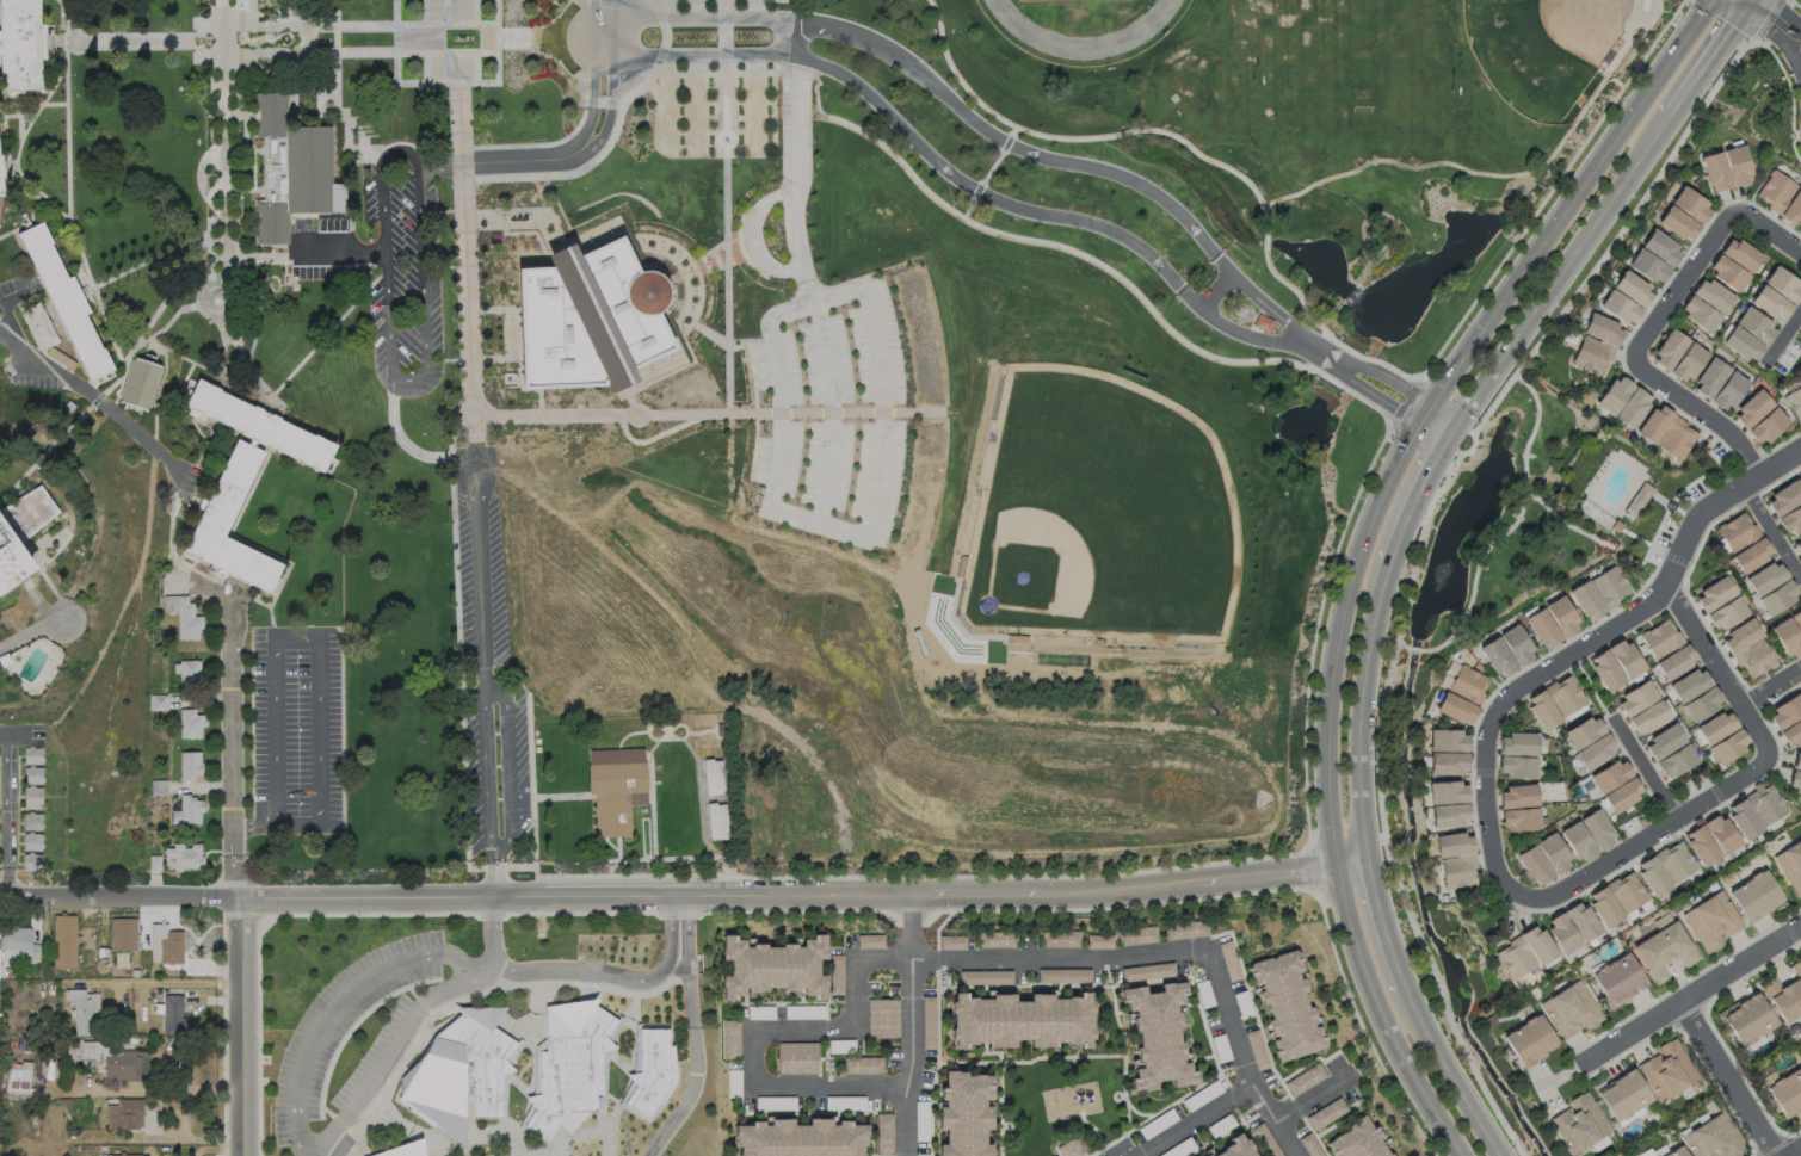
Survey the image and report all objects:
road: (687, 0)
road: (63, 4)
road: (1740, 7)
road: (1751, 7)
road: (1784, 13)
park: (1081, 14)
traffic signals: (1746, 16)
track: (1083, 19)
road: (1769, 19)
road: (335, 20)
road: (64, 26)
road: (202, 26)
road: (308, 26)
road: (664, 36)
road: (792, 36)
road: (418, 37)
fountain: (516, 37)
road: (127, 39)
fountain: (203, 41)
fountain: (242, 41)
road: (1778, 42)
building: (20, 44)
park: (1544, 49)
road: (202, 51)
road: (307, 51)
road: (1710, 68)
road: (338, 88)
road: (603, 100)
road: (815, 101)
road: (321, 103)
road: (39, 104)
road: (36, 112)
road: (19, 116)
road: (970, 118)
road: (579, 119)
road: (1186, 144)
road: (223, 146)
road: (439, 148)
road: (575, 149)
road: (366, 153)
road: (582, 167)
road: (945, 167)
building: (1738, 167)
building: (291, 168)
building: (0, 171)
road: (987, 171)
road: (1494, 173)
building: (1716, 174)
road: (347, 184)
building: (0, 188)
road: (38, 191)
building: (1776, 193)
road: (724, 206)
building: (1692, 206)
road: (68, 210)
road: (442, 210)
road: (524, 211)
building: (1793, 212)
road: (755, 215)
road: (516, 224)
building: (1678, 225)
road: (526, 233)
road: (1769, 236)
building: (1663, 249)
road: (338, 251)
road: (463, 251)
road: (257, 254)
road: (158, 255)
road: (656, 256)
building: (1743, 256)
road: (690, 261)
road: (443, 265)
road: (693, 268)
building: (1648, 268)
parking lot: (387, 270)
road: (684, 273)
road: (1563, 276)
building: (1728, 276)
road: (177, 283)
building: (1783, 286)
parking lot: (18, 289)
building: (1634, 291)
road: (1683, 292)
road: (1217, 295)
building: (1714, 298)
building: (63, 299)
road: (258, 301)
road: (221, 302)
road: (4, 303)
road: (679, 305)
building: (1771, 305)
road: (492, 310)
building: (1620, 310)
building: (1701, 316)
building: (587, 319)
road: (168, 322)
building: (1262, 323)
building: (41, 324)
road: (681, 324)
building: (1756, 327)
building: (1603, 332)
road: (323, 336)
road: (1784, 336)
road: (226, 340)
road: (721, 341)
road: (1185, 341)
road: (135, 345)
building: (1741, 345)
building: (1670, 351)
building: (1595, 356)
building: (58, 358)
road: (471, 358)
building: (1689, 365)
road: (678, 367)
road: (1364, 369)
road: (209, 370)
road: (249, 371)
road: (389, 371)
road: (518, 371)
parking lot: (17, 376)
road: (1349, 378)
building: (1710, 379)
road: (107, 383)
building: (140, 383)
road: (827, 387)
building: (1751, 391)
building: (1731, 392)
road: (94, 396)
building: (1614, 397)
road: (629, 398)
building: (1795, 404)
building: (69, 407)
building: (1633, 410)
parking lot: (832, 412)
building: (1752, 412)
traffic signals: (1427, 413)
road: (717, 414)
road: (482, 416)
road: (636, 418)
road: (1703, 420)
road: (1441, 422)
building: (1654, 426)
building: (1768, 428)
traffic signals: (1454, 432)
building: (1678, 441)
road: (44, 451)
road: (405, 456)
building: (243, 478)
parking lot: (186, 481)
road: (1420, 494)
building: (1783, 501)
building: (1636, 502)
building: (26, 513)
park: (1098, 520)
building: (1791, 523)
road: (1513, 525)
road: (1770, 532)
building: (1737, 533)
road: (1595, 538)
road: (1364, 542)
building: (1797, 545)
building: (1752, 558)
building: (11, 560)
road: (1415, 562)
building: (962, 568)
building: (1765, 580)
building: (1611, 587)
fountain: (1443, 589)
building: (1713, 595)
building: (1777, 600)
building: (1587, 604)
building: (951, 613)
building: (1726, 616)
building: (184, 617)
building: (1563, 619)
building: (1796, 622)
building: (1543, 631)
road: (29, 632)
road: (1602, 635)
building: (1739, 637)
building: (1018, 639)
building: (1660, 641)
building: (1787, 641)
road: (1404, 645)
building: (1518, 648)
road: (1415, 649)
building: (5, 661)
building: (1498, 661)
building: (1626, 661)
building: (1674, 663)
building: (1754, 663)
parking lot: (485, 664)
road: (320, 666)
road: (1719, 669)
building: (1606, 673)
building: (189, 675)
building: (1470, 686)
building: (1689, 687)
road: (1772, 691)
road: (487, 692)
building: (1567, 697)
building: (1635, 699)
building: (159, 703)
building: (1701, 705)
road: (1358, 709)
building: (1457, 711)
building: (1784, 711)
building: (1542, 712)
building: (1647, 719)
building: (191, 724)
building: (1714, 728)
parking lot: (298, 729)
building: (721, 730)
road: (664, 731)
parking lot: (36, 734)
building: (1583, 734)
building: (1790, 735)
road: (649, 737)
road: (676, 740)
road: (230, 741)
building: (1663, 742)
building: (1448, 743)
building: (1519, 744)
building: (1727, 749)
building: (1596, 754)
road: (692, 755)
building: (33, 756)
building: (1795, 760)
building: (1674, 762)
building: (191, 766)
building: (1448, 767)
road: (1643, 767)
road: (507, 768)
building: (1517, 769)
building: (33, 777)
building: (713, 777)
building: (1609, 778)
building: (1793, 783)
building: (617, 787)
building: (159, 789)
building: (1448, 793)
building: (33, 796)
road: (550, 798)
building: (1517, 798)
building: (1622, 798)
building: (150, 805)
building: (1766, 805)
parking lot: (12, 806)
building: (166, 811)
building: (189, 811)
road: (650, 811)
road: (5, 814)
building: (1450, 820)
building: (717, 821)
building: (1740, 821)
building: (32, 822)
building: (1519, 822)
building: (1598, 832)
building: (1717, 834)
building: (32, 842)
road: (610, 843)
building: (1577, 843)
building: (1698, 847)
building: (1454, 848)
road: (1626, 849)
building: (1553, 854)
building: (185, 858)
building: (1673, 861)
building: (32, 863)
building: (155, 865)
road: (618, 866)
building: (1790, 866)
building: (1534, 868)
building: (1458, 874)
building: (1651, 877)
building: (1727, 880)
building: (1624, 892)
building: (1754, 896)
road: (685, 897)
building: (1602, 908)
building: (1710, 920)
road: (1383, 922)
building: (1579, 922)
building: (1185, 929)
building: (1135, 934)
building: (124, 935)
building: (1560, 935)
building: (1059, 938)
building: (995, 939)
building: (869, 940)
building: (951, 941)
building: (1098, 941)
building: (19, 942)
building: (66, 944)
building: (1537, 946)
building: (1663, 948)
building: (172, 950)
building: (103, 953)
road: (1129, 957)
building: (1516, 962)
building: (772, 968)
building: (1147, 971)
building: (8, 973)
building: (835, 973)
building: (1063, 975)
building: (985, 977)
road: (610, 978)
building: (1616, 981)
road: (169, 983)
road: (364, 985)
road: (1692, 993)
building: (1784, 994)
building: (1285, 1004)
building: (82, 1014)
building: (173, 1014)
building: (1567, 1014)
building: (882, 1018)
building: (1018, 1020)
building: (927, 1022)
building: (1489, 1022)
building: (1747, 1022)
road: (241, 1026)
road: (911, 1026)
building: (43, 1033)
road: (693, 1033)
road: (766, 1033)
building: (1157, 1036)
building: (730, 1038)
building: (134, 1040)
road: (397, 1040)
building: (1529, 1041)
building: (796, 1057)
building: (862, 1064)
building: (570, 1068)
building: (125, 1069)
building: (654, 1071)
road: (1445, 1071)
building: (1669, 1071)
building: (459, 1072)
building: (1305, 1078)
road: (1721, 1080)
building: (18, 1082)
building: (1787, 1095)
road: (1312, 1096)
building: (1624, 1096)
building: (1326, 1113)
building: (963, 1114)
building: (130, 1115)
building: (883, 1118)
road: (1196, 1121)
road: (1273, 1121)
building: (1577, 1126)
building: (800, 1138)
building: (1265, 1139)
building: (1711, 1140)
building: (1356, 1142)
building: (1309, 1145)
building: (1233, 1146)
building: (1068, 1149)
building: (406, 1150)
building: (1677, 1152)
road: (1799, 1154)
building: (128, 1155)

